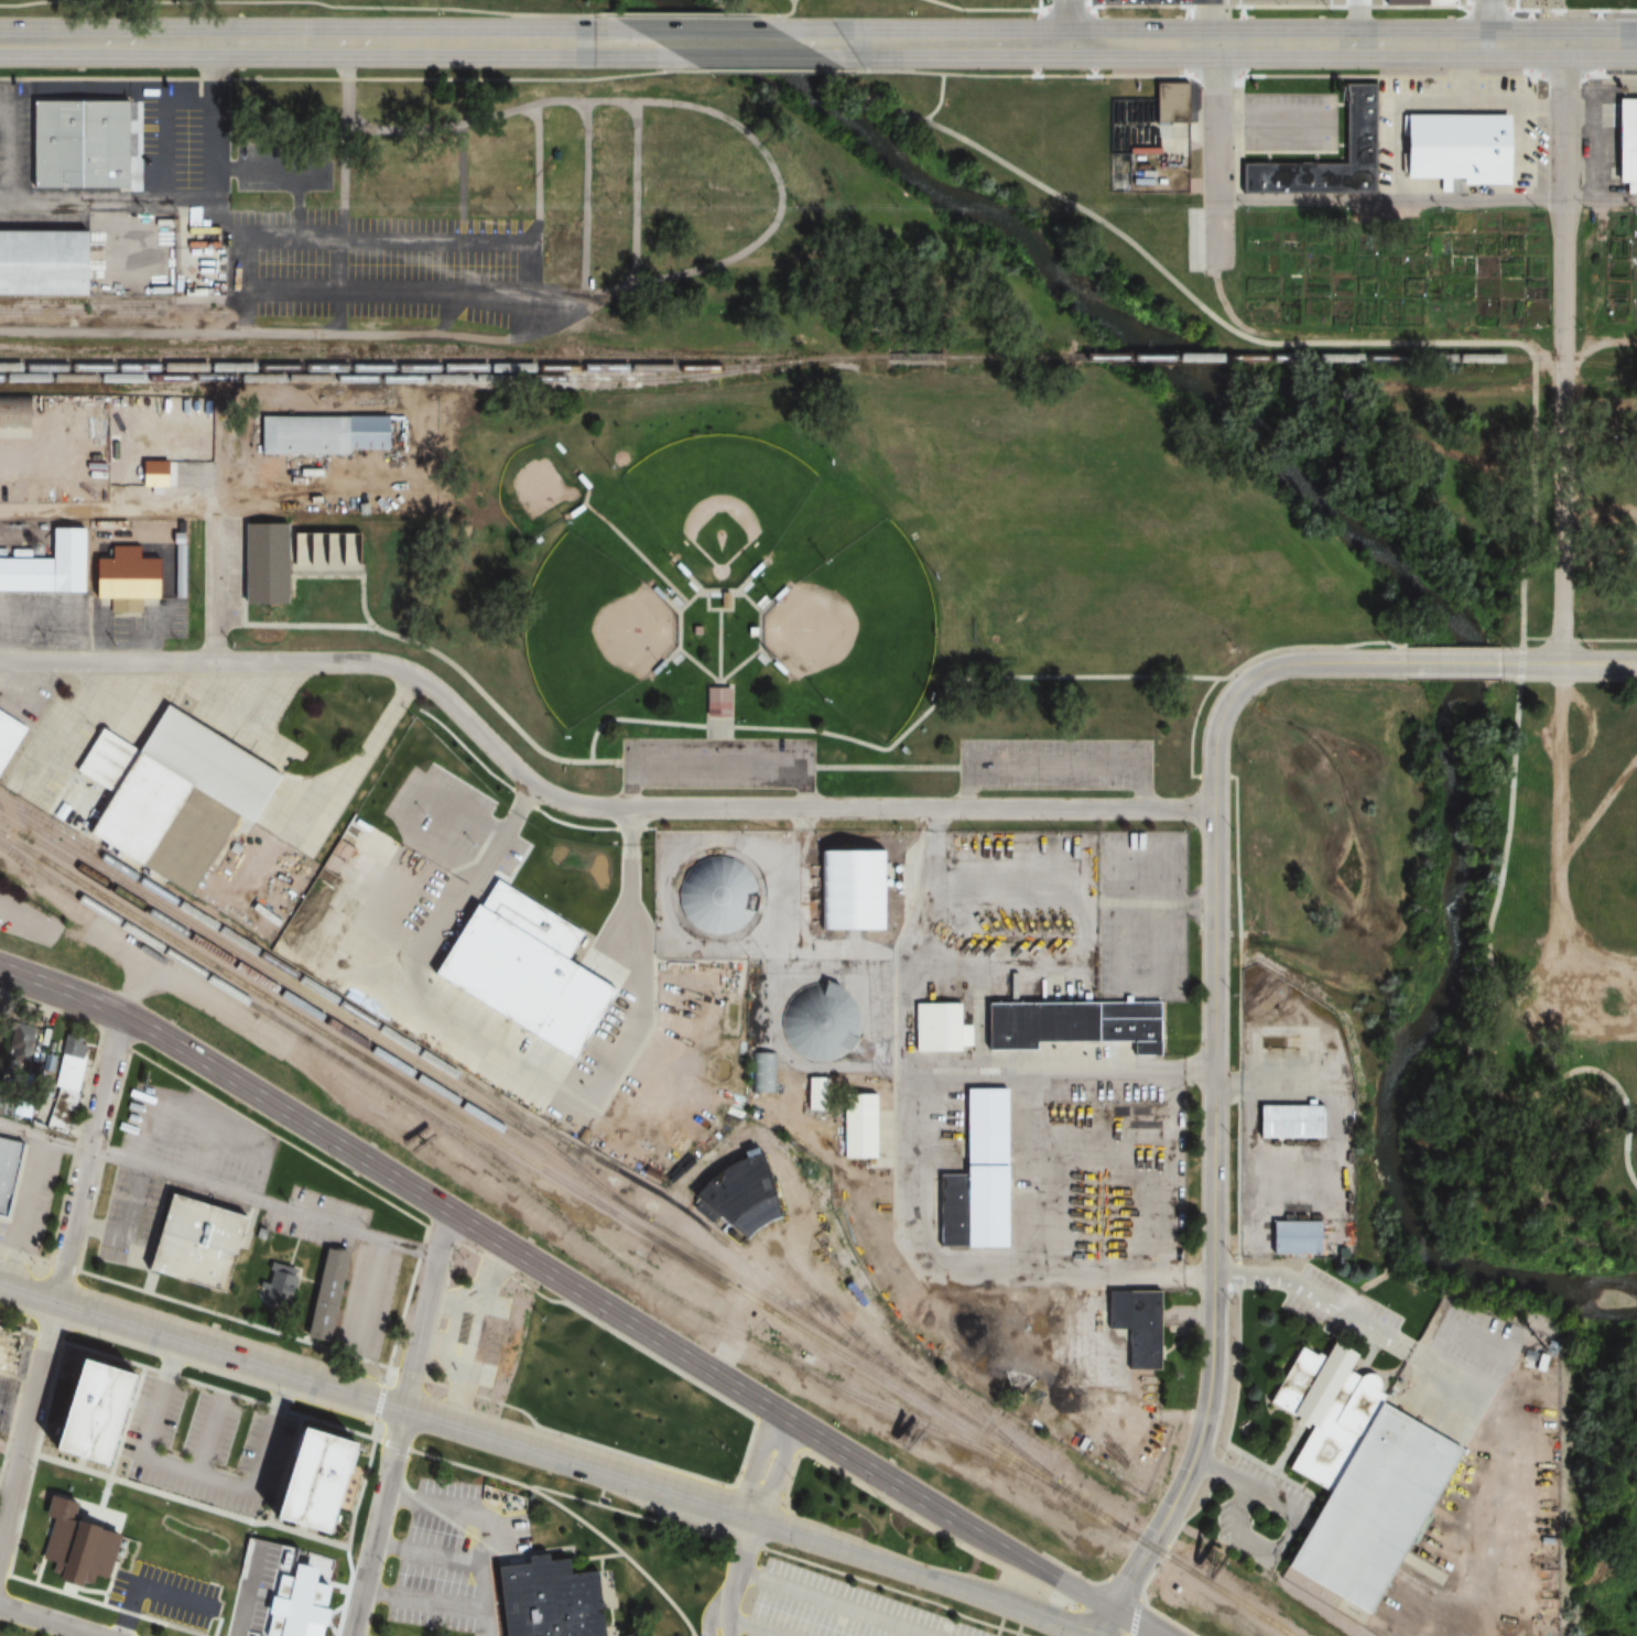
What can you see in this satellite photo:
road: (296, 2)
building: (1418, 2)
park: (562, 4)
road: (1039, 4)
road: (986, 10)
road: (680, 15)
road: (784, 15)
road: (1069, 22)
road: (1490, 22)
road: (297, 42)
road: (720, 43)
road: (957, 44)
road: (1352, 45)
road: (777, 68)
road: (1020, 75)
road: (351, 77)
road: (939, 100)
building: (1168, 101)
building: (1354, 123)
building: (1624, 143)
building: (73, 147)
building: (1453, 147)
road: (1216, 156)
road: (1562, 177)
road: (110, 201)
road: (1427, 201)
building: (42, 264)
crop: (1394, 268)
crop: (1620, 270)
railway: (80, 301)
railway: (111, 313)
road: (166, 329)
railway: (466, 347)
railway: (609, 349)
railway: (440, 356)
railway: (911, 358)
railway: (1027, 358)
railway: (1181, 359)
railway: (1381, 359)
railway: (815, 360)
railway: (1575, 360)
railway: (376, 368)
railway: (376, 380)
road: (1535, 391)
building: (13, 411)
building: (319, 434)
building: (150, 473)
road: (1561, 487)
park: (717, 501)
building: (176, 530)
building: (283, 557)
building: (46, 565)
park: (975, 567)
road: (659, 575)
building: (121, 577)
river: (1418, 584)
road: (214, 587)
park: (590, 629)
park: (857, 630)
road: (718, 638)
road: (1536, 639)
road: (1562, 640)
road: (1606, 640)
road: (447, 661)
road: (1452, 663)
road: (1570, 664)
road: (733, 670)
road: (1255, 673)
road: (971, 679)
building: (714, 702)
road: (1191, 727)
building: (7, 734)
parking lot: (716, 763)
road: (715, 765)
road: (1054, 766)
parking lot: (1055, 766)
road: (886, 767)
road: (1212, 774)
building: (158, 798)
road: (581, 805)
building: (847, 890)
building: (715, 896)
storage tank: (715, 896)
railway: (232, 938)
building: (535, 968)
railway: (277, 978)
building: (429, 979)
railway: (295, 1017)
building: (817, 1021)
storage tank: (817, 1021)
building: (1034, 1025)
building: (758, 1080)
building: (61, 1095)
railway: (509, 1114)
road: (1238, 1115)
building: (1286, 1122)
building: (856, 1126)
railway: (512, 1137)
road: (86, 1159)
building: (6, 1170)
railway: (497, 1170)
railway: (587, 1177)
building: (975, 1177)
road: (218, 1191)
building: (738, 1193)
railway: (660, 1195)
road: (87, 1220)
road: (1214, 1220)
road: (489, 1237)
building: (1290, 1238)
building: (189, 1245)
road: (447, 1260)
railway: (801, 1272)
railway: (795, 1278)
building: (275, 1286)
road: (1323, 1292)
road: (28, 1293)
building: (321, 1296)
building: (1132, 1325)
building: (492, 1344)
building: (8, 1347)
road: (98, 1351)
railway: (914, 1359)
railway: (888, 1367)
parking lot: (1463, 1367)
road: (404, 1372)
building: (148, 1383)
parking lot: (4, 1389)
road: (15, 1405)
road: (402, 1409)
building: (96, 1411)
railway: (937, 1417)
road: (28, 1423)
road: (400, 1424)
building: (221, 1426)
road: (208, 1443)
building: (282, 1443)
road: (0, 1444)
parking lot: (203, 1448)
road: (18, 1450)
building: (137, 1459)
building: (350, 1462)
road: (756, 1464)
building: (1352, 1471)
road: (777, 1474)
road: (197, 1478)
building: (314, 1481)
building: (169, 1483)
road: (522, 1486)
railway: (1066, 1491)
building: (258, 1495)
road: (191, 1500)
road: (483, 1527)
building: (74, 1546)
road: (427, 1551)
road: (778, 1553)
parking lot: (452, 1558)
road: (737, 1558)
road: (875, 1560)
road: (1041, 1567)
building: (311, 1569)
road: (1075, 1572)
road: (1148, 1575)
road: (140, 1584)
parking lot: (250, 1586)
road: (1125, 1588)
building: (247, 1590)
road: (245, 1592)
parking lot: (166, 1593)
building: (542, 1600)
road: (836, 1603)
building: (295, 1604)
road: (424, 1604)
parking lot: (834, 1608)
road: (713, 1614)
road: (1134, 1615)
road: (729, 1616)
road: (1042, 1618)
road: (47, 1621)
road: (1105, 1622)
road: (1135, 1622)
road: (756, 1627)

